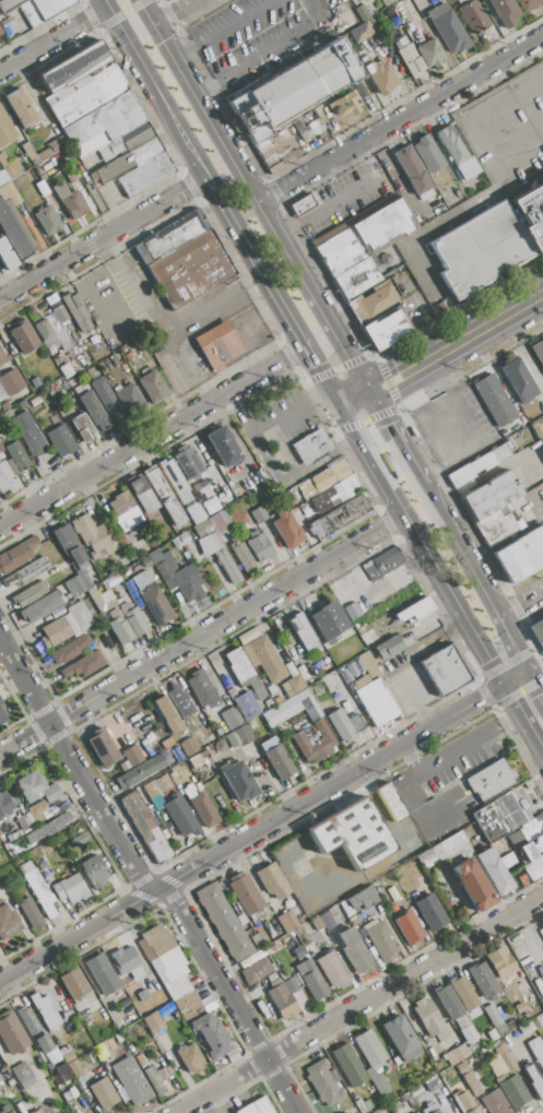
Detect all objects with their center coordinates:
building: (529, 4)
traffic signals: (108, 7)
building: (36, 9)
road: (127, 11)
building: (504, 11)
building: (362, 12)
road: (174, 13)
building: (471, 15)
building: (345, 20)
traffic signals: (151, 26)
road: (221, 28)
building: (447, 28)
building: (361, 32)
building: (0, 33)
building: (0, 34)
road: (54, 38)
road: (131, 47)
road: (262, 52)
building: (430, 52)
building: (410, 60)
building: (73, 67)
building: (382, 79)
building: (292, 90)
building: (85, 95)
building: (344, 104)
building: (20, 108)
road: (399, 120)
building: (102, 125)
building: (308, 125)
building: (5, 129)
building: (135, 135)
road: (181, 135)
building: (50, 149)
building: (276, 151)
building: (27, 152)
building: (427, 154)
building: (457, 154)
building: (129, 159)
building: (5, 167)
building: (412, 170)
building: (144, 174)
building: (67, 175)
building: (542, 179)
building: (42, 188)
road: (250, 196)
road: (339, 199)
building: (70, 201)
building: (302, 205)
building: (531, 216)
building: (46, 220)
building: (13, 234)
building: (169, 236)
building: (365, 237)
road: (103, 239)
building: (480, 250)
building: (3, 252)
road: (253, 261)
building: (189, 270)
building: (356, 277)
road: (209, 299)
building: (371, 304)
building: (56, 308)
building: (76, 311)
road: (505, 313)
building: (50, 319)
road: (258, 319)
road: (128, 323)
building: (386, 331)
building: (45, 333)
building: (24, 336)
building: (217, 346)
road: (522, 351)
building: (538, 352)
building: (3, 358)
road: (177, 359)
road: (418, 366)
building: (66, 370)
road: (320, 374)
building: (520, 380)
building: (11, 382)
building: (152, 387)
building: (103, 391)
traffic signals: (366, 391)
building: (127, 396)
road: (352, 396)
building: (494, 400)
building: (35, 401)
traffic signals: (338, 402)
building: (22, 405)
building: (92, 411)
road: (366, 419)
road: (269, 425)
building: (83, 428)
building: (27, 433)
road: (373, 434)
road: (151, 436)
road: (394, 438)
building: (60, 440)
building: (311, 446)
building: (224, 447)
building: (16, 455)
building: (189, 463)
building: (479, 464)
road: (483, 475)
building: (327, 477)
building: (7, 479)
building: (175, 481)
building: (343, 489)
building: (142, 495)
building: (164, 497)
building: (492, 507)
building: (125, 512)
building: (196, 514)
building: (259, 514)
building: (340, 516)
building: (219, 522)
building: (202, 529)
building: (287, 530)
building: (93, 536)
building: (184, 537)
building: (176, 542)
road: (421, 542)
building: (69, 545)
building: (260, 547)
building: (131, 552)
building: (520, 554)
building: (17, 555)
building: (217, 555)
building: (244, 558)
building: (382, 563)
road: (355, 569)
building: (32, 570)
building: (177, 576)
road: (473, 578)
road: (386, 580)
building: (73, 587)
building: (29, 594)
building: (152, 597)
building: (102, 600)
road: (519, 602)
building: (40, 607)
building: (415, 609)
building: (78, 618)
building: (328, 620)
building: (126, 624)
building: (55, 632)
building: (304, 632)
building: (538, 632)
road: (202, 635)
building: (244, 637)
building: (371, 642)
building: (390, 648)
building: (71, 649)
building: (267, 659)
building: (83, 664)
building: (369, 665)
building: (241, 670)
building: (444, 671)
traffic signals: (526, 671)
road: (515, 677)
traffic signals: (504, 684)
road: (533, 685)
building: (293, 686)
building: (236, 687)
building: (202, 691)
building: (278, 700)
building: (374, 700)
building: (1, 701)
building: (180, 701)
road: (416, 703)
building: (246, 706)
building: (287, 708)
building: (167, 714)
building: (2, 715)
road: (523, 715)
building: (231, 718)
building: (344, 724)
building: (239, 736)
building: (314, 741)
flagpole: (503, 742)
road: (470, 743)
building: (189, 746)
building: (103, 747)
building: (132, 756)
road: (410, 758)
building: (280, 762)
road: (75, 766)
building: (140, 772)
building: (238, 780)
building: (489, 781)
building: (29, 786)
building: (151, 789)
building: (51, 793)
road: (414, 800)
building: (391, 803)
building: (156, 804)
building: (4, 806)
building: (203, 809)
building: (36, 812)
building: (180, 815)
building: (499, 817)
building: (24, 822)
building: (146, 827)
building: (48, 828)
road: (252, 834)
building: (353, 834)
building: (82, 838)
building: (452, 843)
building: (532, 848)
building: (430, 856)
building: (43, 866)
building: (94, 871)
building: (493, 871)
building: (272, 881)
building: (473, 884)
building: (37, 888)
building: (70, 889)
building: (244, 893)
building: (362, 899)
building: (344, 907)
building: (429, 912)
building: (29, 913)
building: (327, 920)
building: (223, 921)
building: (287, 921)
building: (542, 921)
building: (8, 922)
building: (317, 924)
building: (408, 927)
building: (274, 930)
building: (379, 940)
building: (354, 952)
building: (162, 954)
building: (250, 959)
building: (125, 960)
building: (500, 962)
building: (332, 970)
building: (257, 971)
building: (102, 974)
building: (308, 974)
building: (271, 976)
building: (483, 981)
building: (73, 984)
building: (291, 985)
building: (177, 987)
building: (463, 994)
building: (142, 995)
road: (234, 999)
building: (482, 999)
building: (281, 1000)
building: (448, 1002)
road: (362, 1005)
building: (189, 1006)
building: (44, 1009)
building: (174, 1016)
building: (430, 1019)
building: (495, 1019)
building: (461, 1021)
building: (153, 1022)
building: (34, 1030)
building: (11, 1033)
building: (468, 1034)
building: (210, 1035)
building: (401, 1039)
building: (369, 1049)
building: (101, 1051)
building: (536, 1051)
building: (457, 1054)
building: (68, 1057)
building: (190, 1057)
building: (506, 1058)
building: (349, 1066)
building: (462, 1067)
building: (74, 1068)
building: (63, 1074)
building: (23, 1075)
building: (157, 1078)
building: (131, 1081)
building: (378, 1081)
building: (323, 1084)
building: (472, 1084)
building: (534, 1084)
building: (433, 1085)
building: (511, 1090)
building: (415, 1091)
building: (103, 1093)
building: (494, 1102)
building: (465, 1103)
building: (256, 1105)
building: (367, 1105)
building: (359, 1106)
building: (4, 1109)
building: (430, 1109)
building: (37, 1111)
building: (44, 1112)
building: (51, 1112)
building: (415, 1112)
building: (416, 1112)

